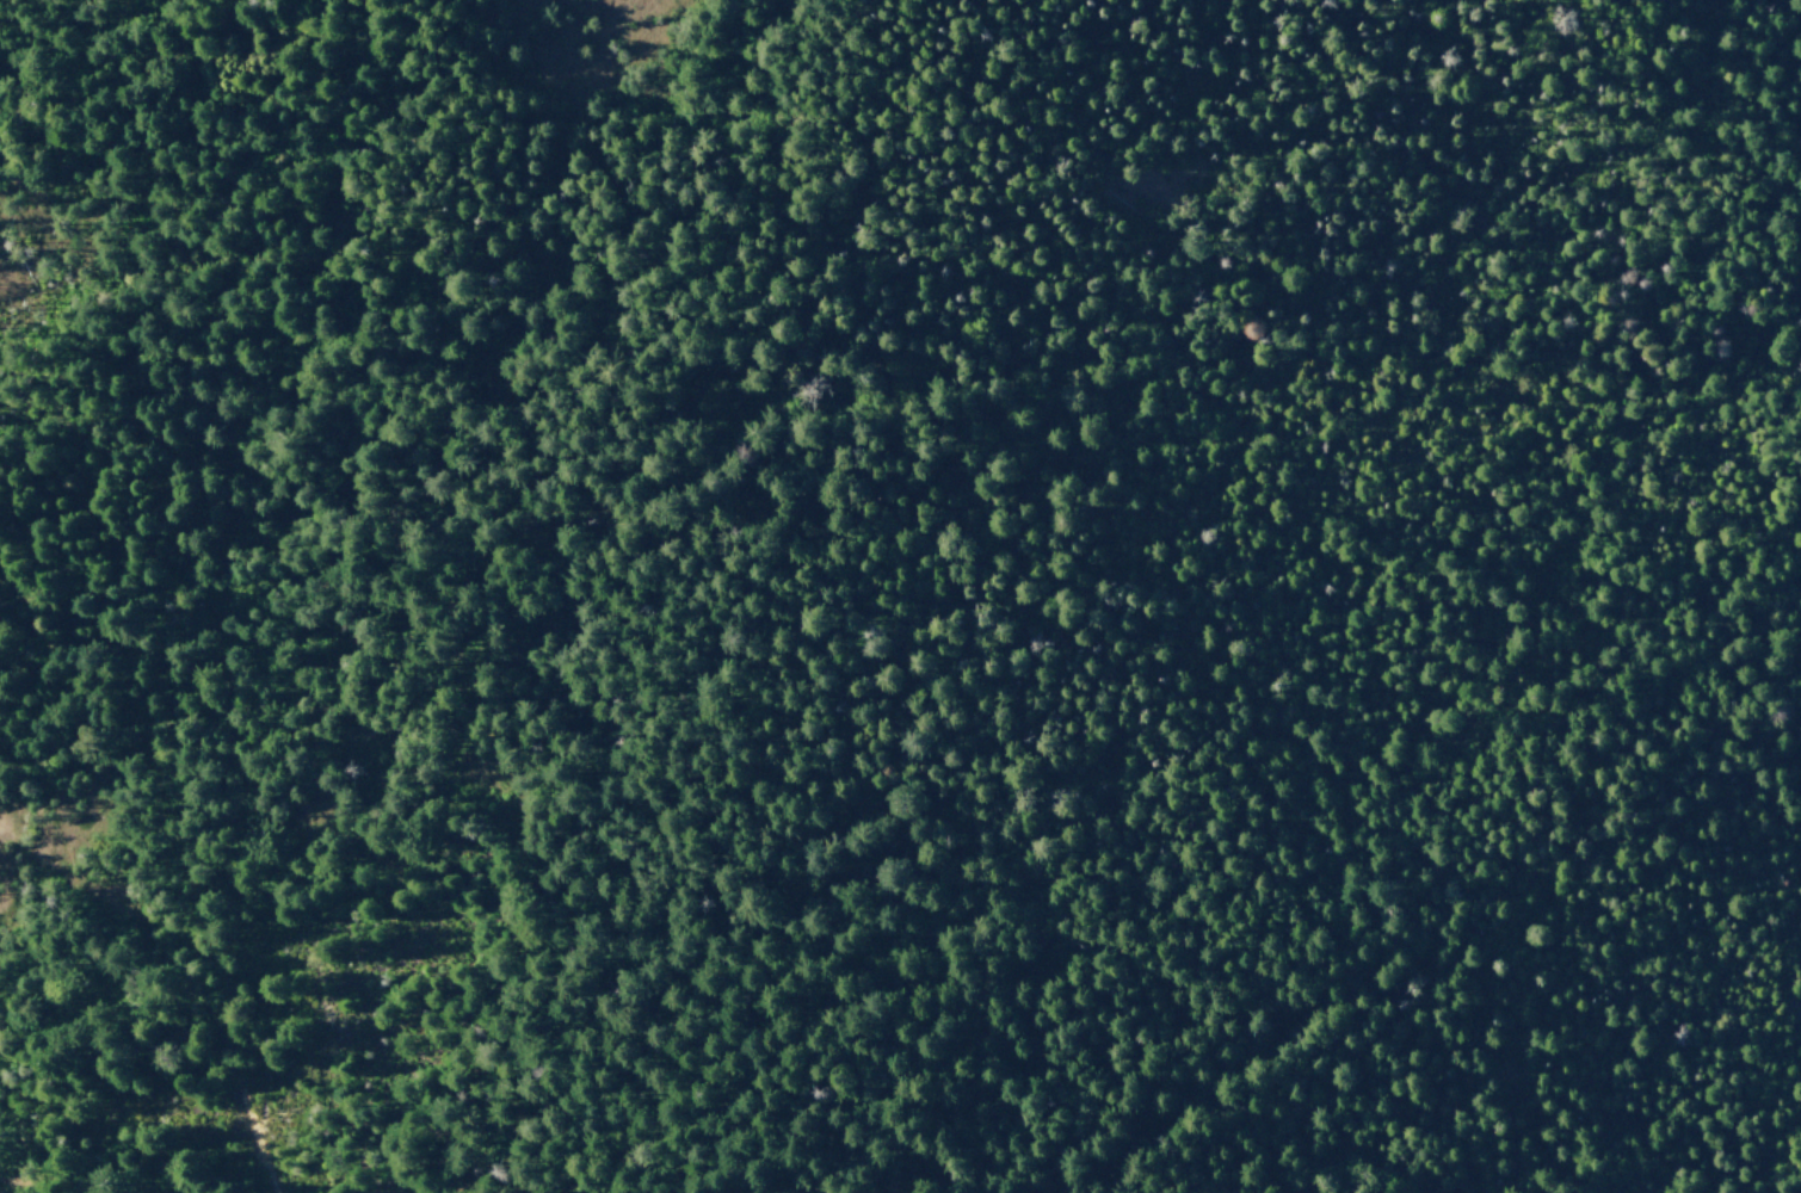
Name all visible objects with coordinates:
road: (187, 968)

